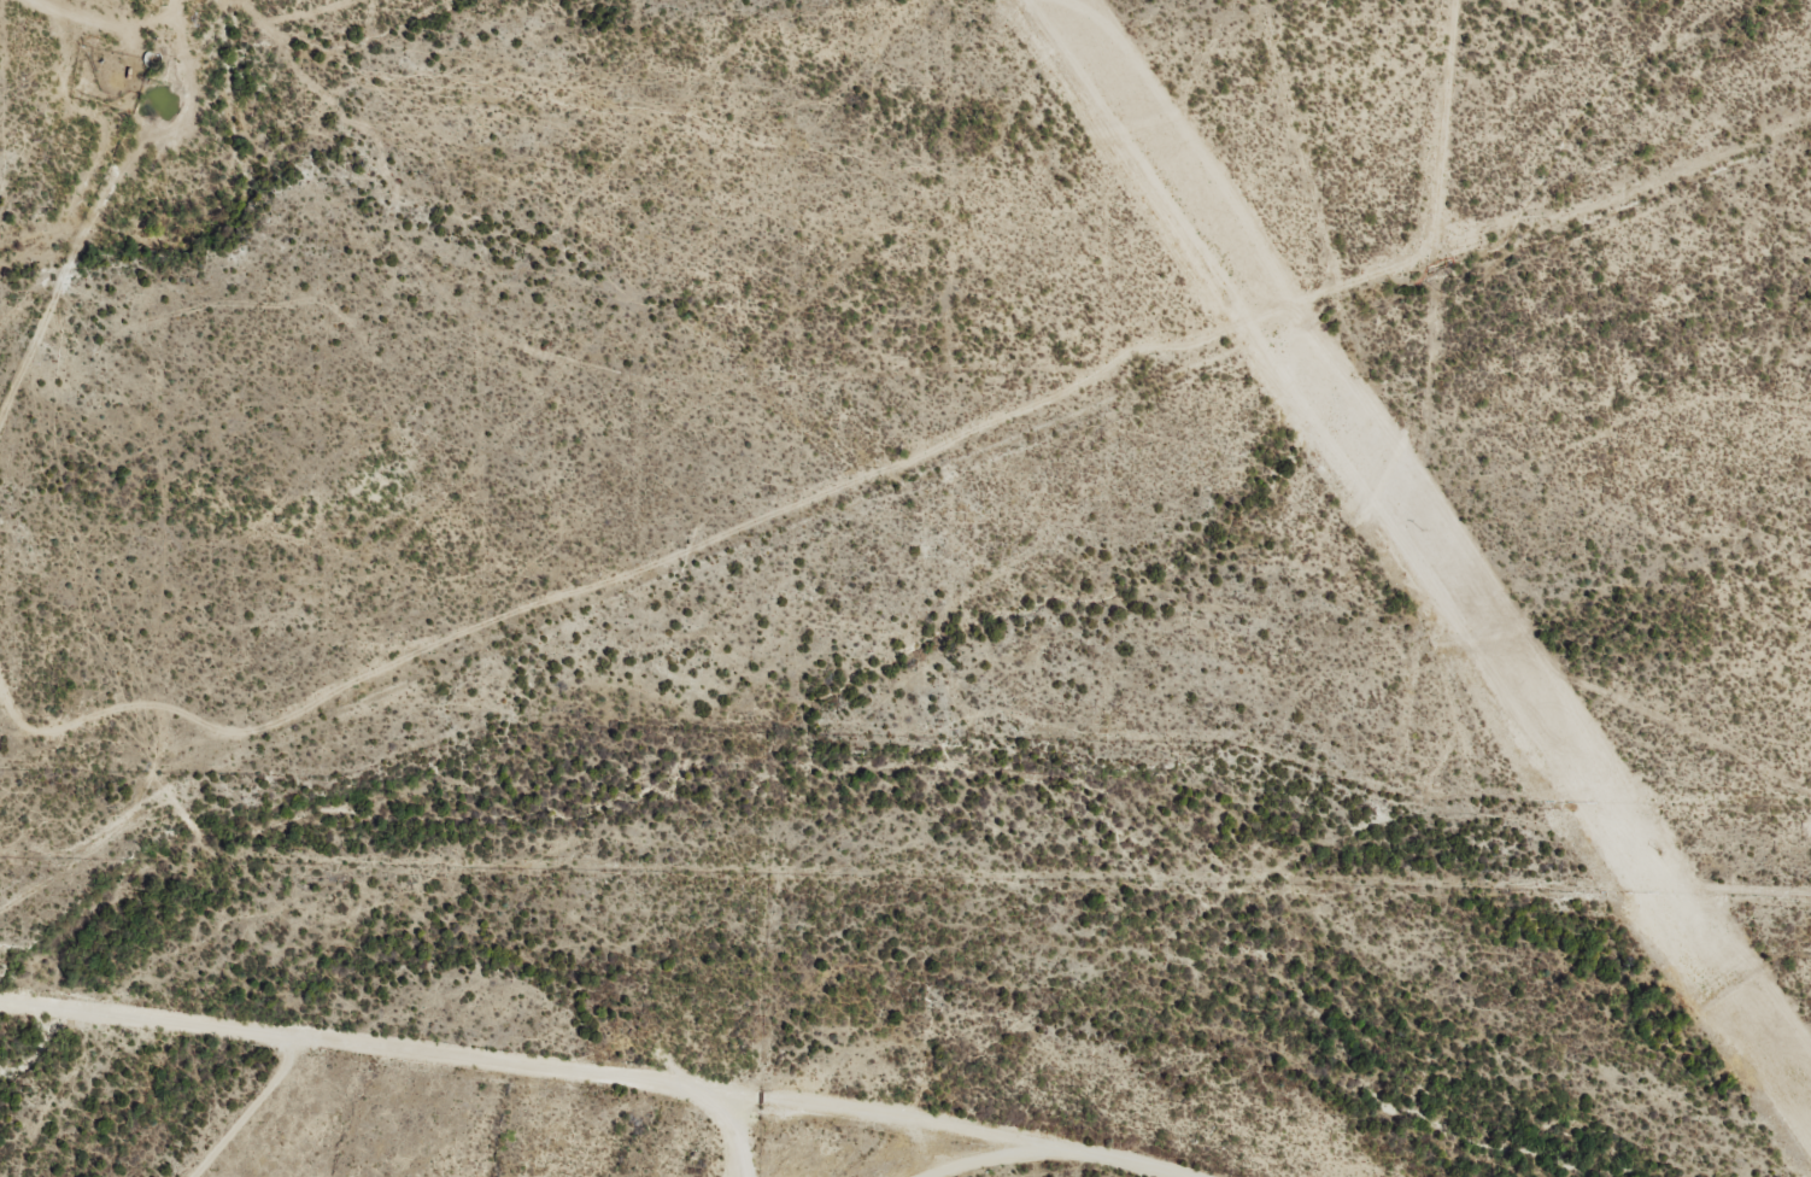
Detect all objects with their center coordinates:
road: (512, 1083)

